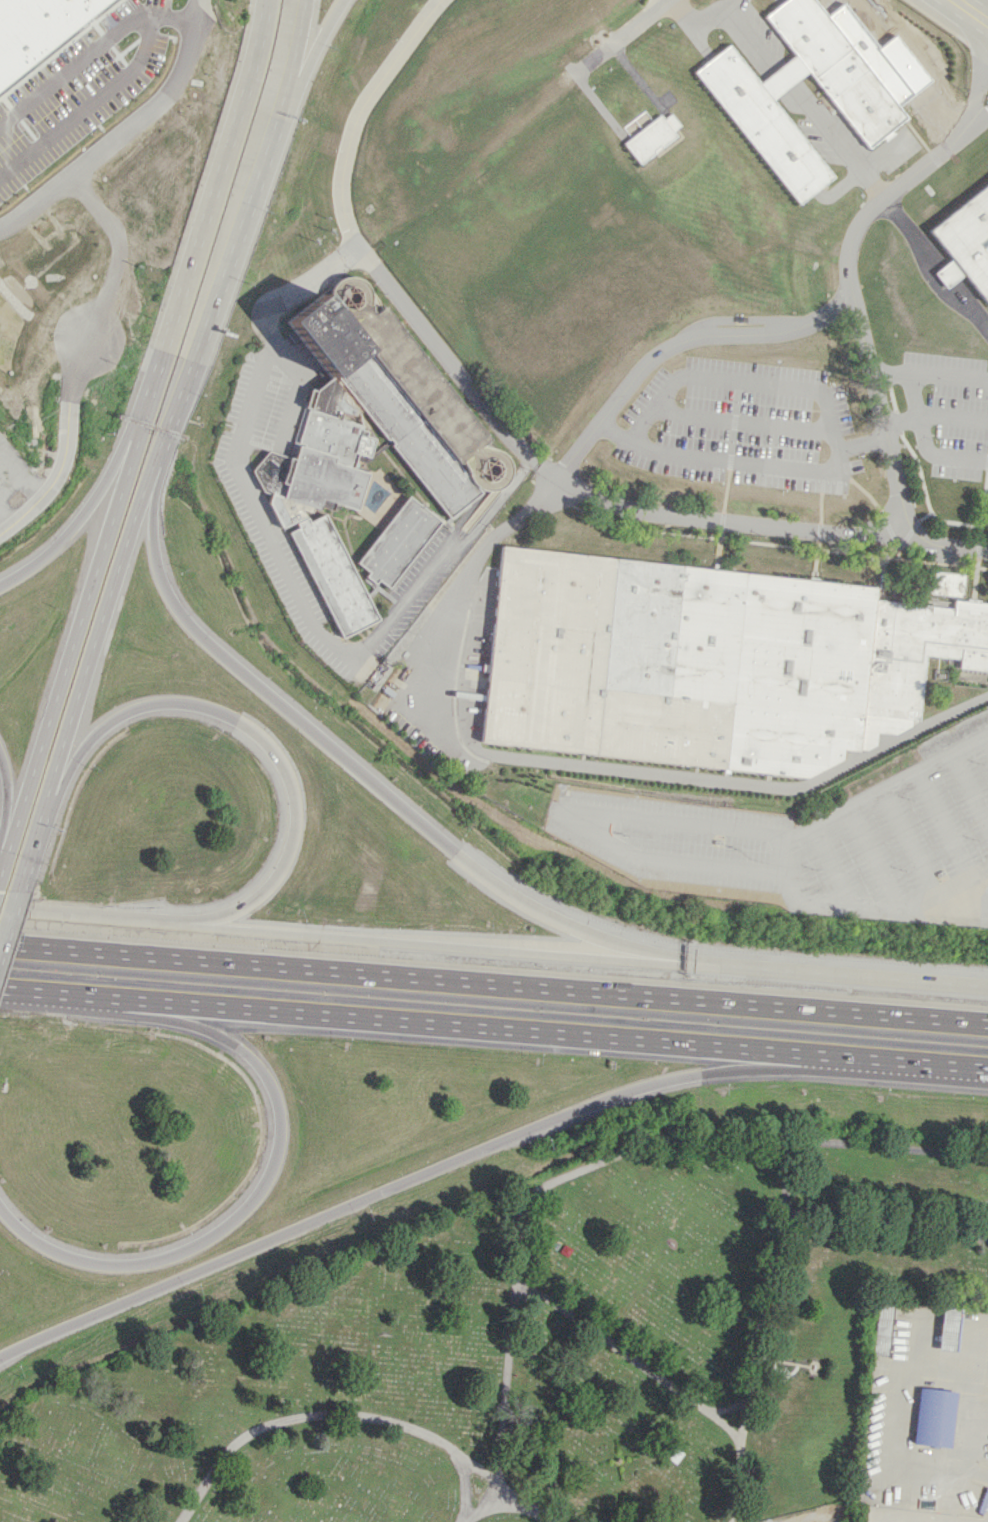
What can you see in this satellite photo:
road: (663, 1)
road: (199, 3)
road: (973, 10)
road: (700, 21)
building: (34, 27)
road: (623, 35)
road: (309, 53)
road: (89, 54)
road: (299, 55)
road: (985, 82)
road: (790, 88)
road: (978, 107)
building: (866, 108)
road: (360, 113)
road: (980, 119)
building: (651, 137)
road: (882, 150)
road: (103, 151)
road: (870, 183)
road: (38, 202)
building: (965, 242)
road: (927, 269)
road: (223, 282)
road: (857, 309)
road: (97, 318)
road: (678, 342)
road: (445, 358)
road: (947, 376)
road: (910, 394)
road: (951, 417)
road: (138, 437)
road: (67, 444)
road: (236, 446)
building: (346, 455)
road: (937, 458)
road: (744, 462)
parking lot: (286, 493)
road: (81, 514)
road: (758, 524)
building: (396, 542)
road: (438, 554)
building: (707, 661)
road: (84, 671)
road: (256, 733)
road: (544, 759)
road: (359, 770)
road: (970, 788)
road: (6, 805)
road: (574, 813)
parking lot: (814, 837)
road: (952, 841)
road: (916, 850)
road: (782, 854)
road: (870, 858)
road: (832, 864)
road: (946, 885)
road: (8, 915)
road: (93, 917)
road: (447, 945)
road: (848, 977)
road: (494, 983)
road: (60, 992)
road: (473, 1025)
road: (907, 1061)
road: (601, 1162)
road: (406, 1181)
road: (256, 1194)
road: (779, 1228)
building: (949, 1328)
park: (537, 1350)
road: (663, 1379)
road: (335, 1414)
building: (935, 1415)
road: (483, 1469)
road: (512, 1505)
parking lot: (920, 1515)
road: (898, 1519)

